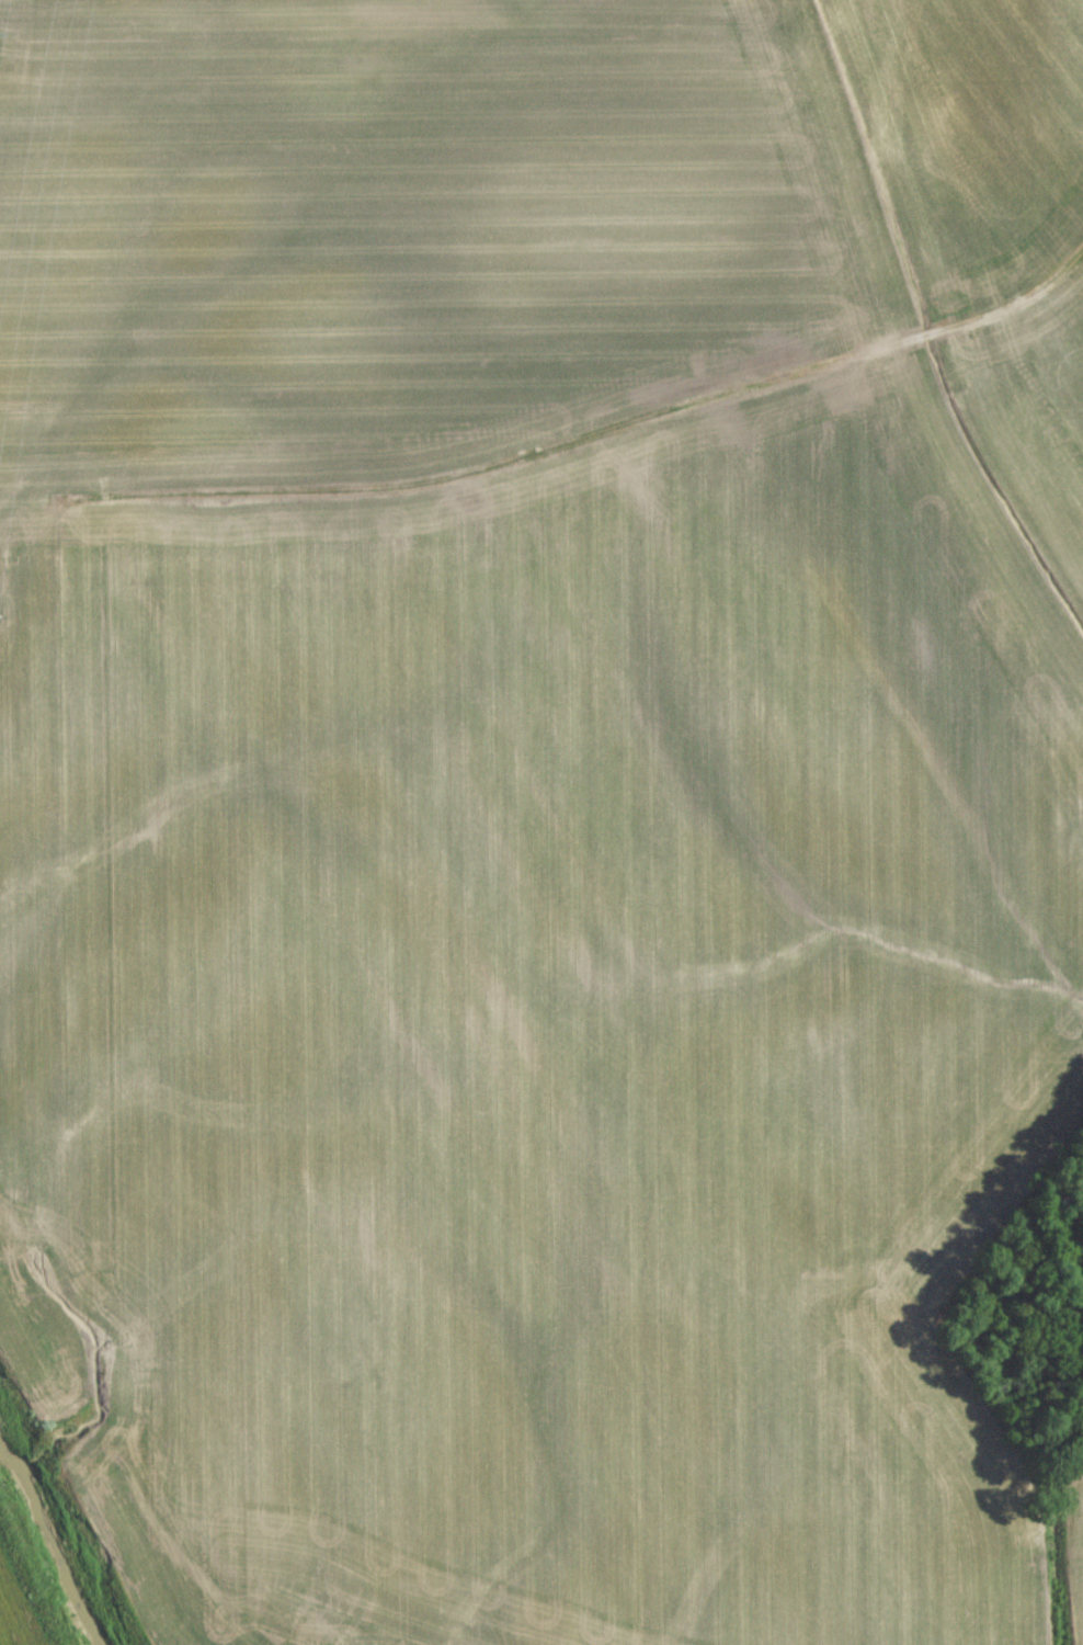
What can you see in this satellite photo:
road: (1082, 109)

